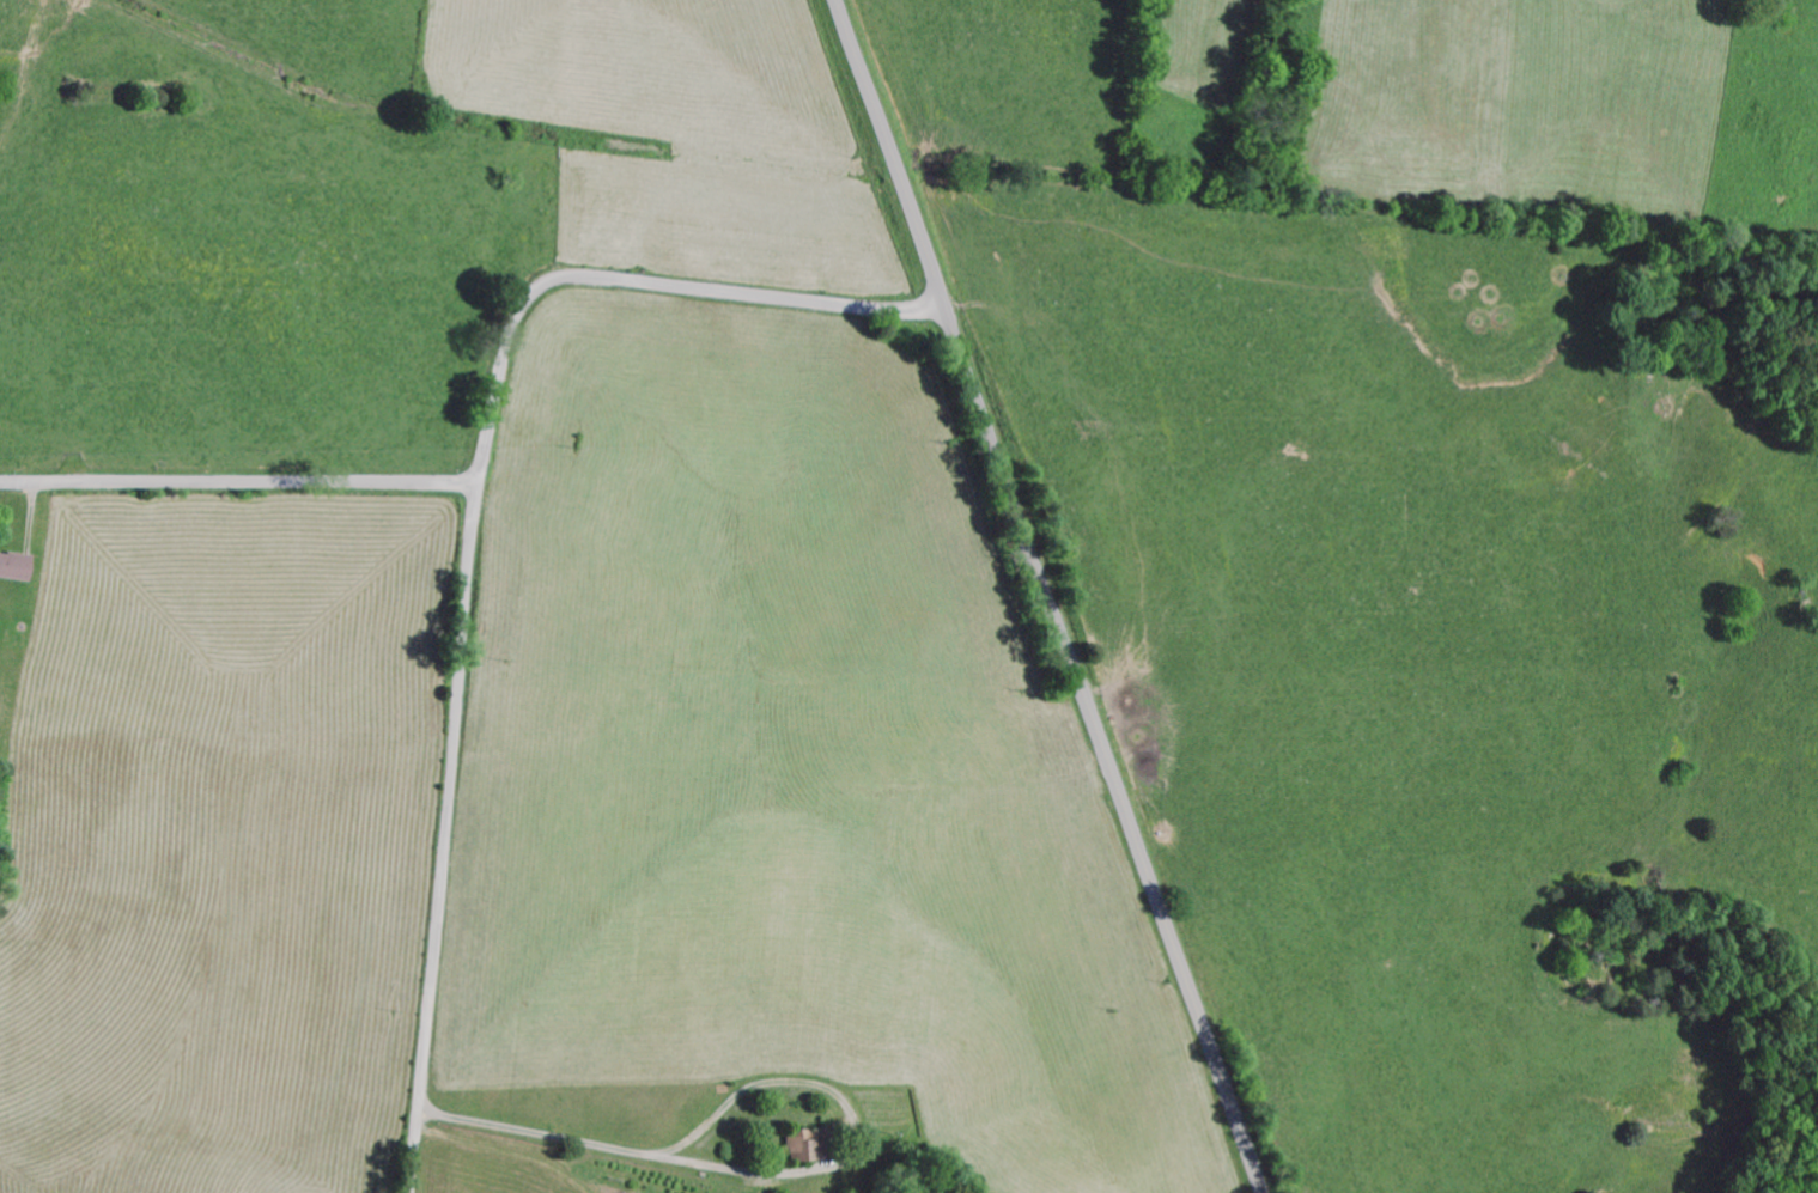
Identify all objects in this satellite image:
road: (237, 482)
road: (469, 530)
building: (11, 571)
road: (1045, 597)
building: (796, 1149)

